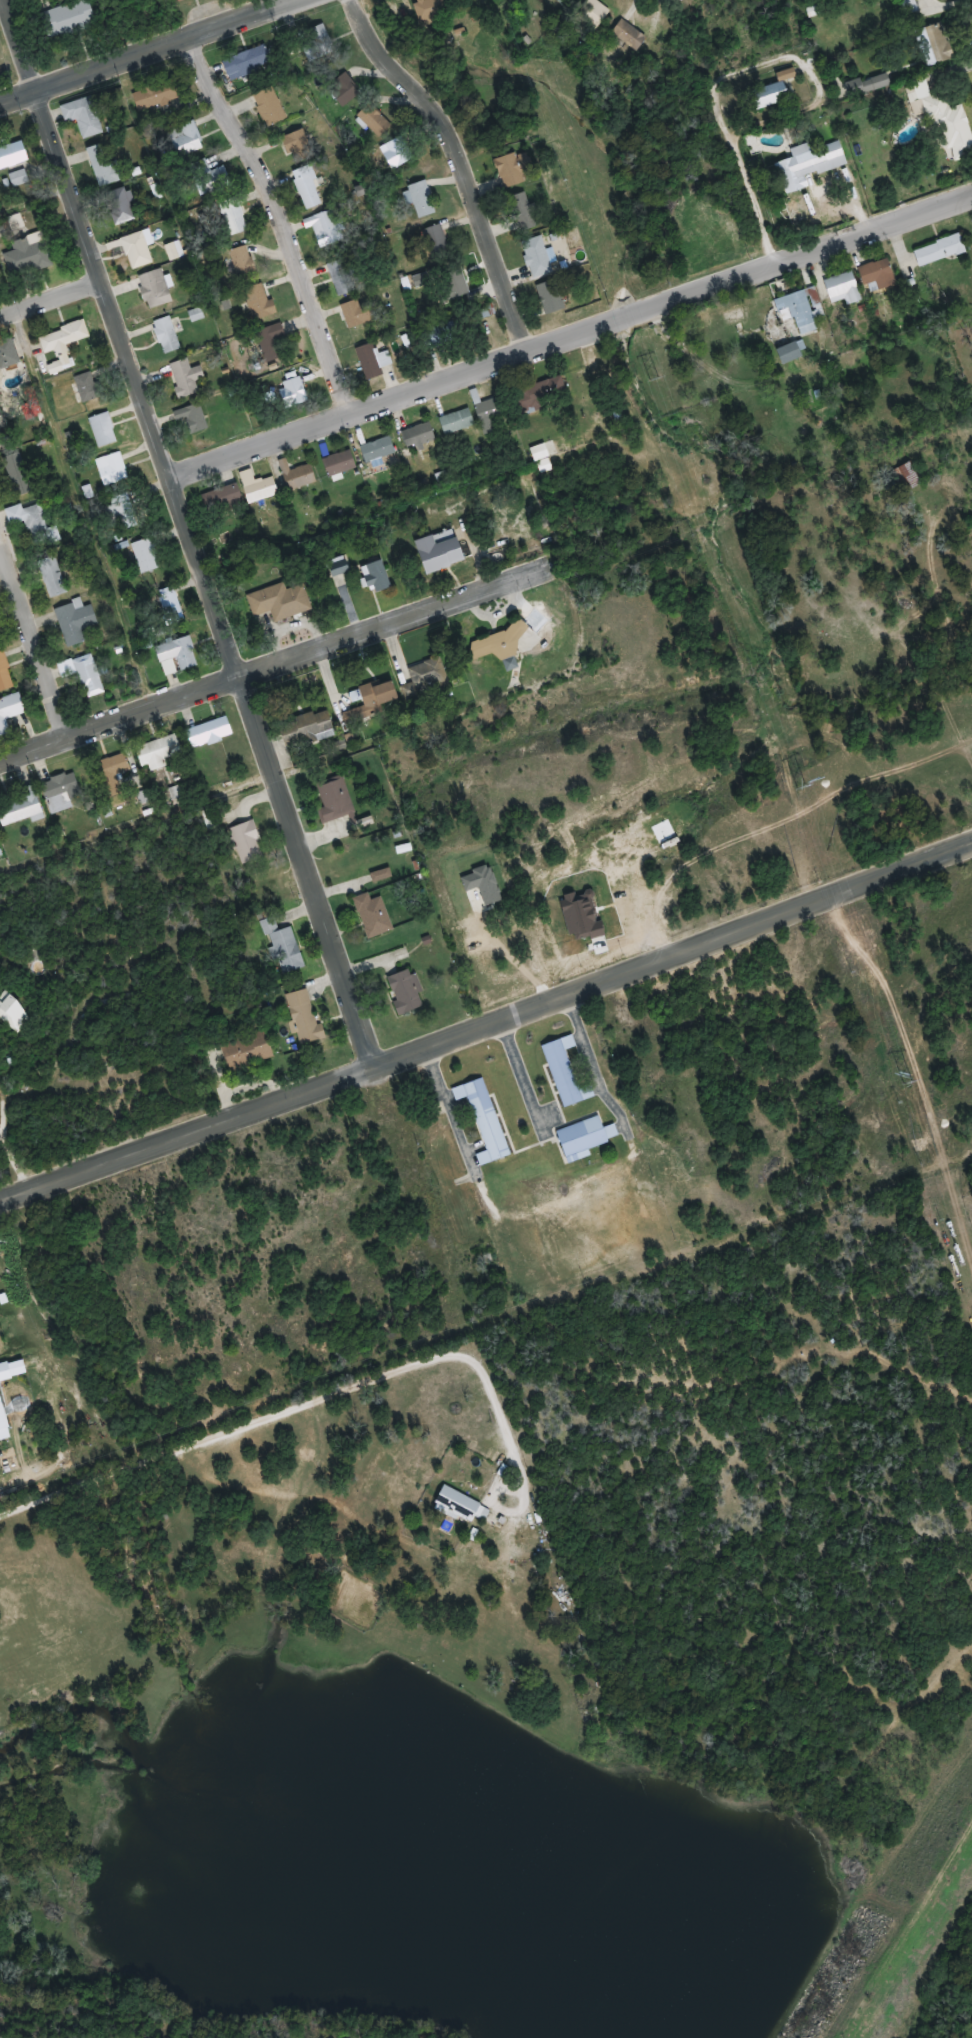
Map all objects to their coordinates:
building: (563, 2)
building: (605, 5)
building: (917, 7)
building: (431, 9)
building: (69, 18)
building: (634, 20)
building: (625, 36)
building: (316, 43)
building: (933, 46)
road: (143, 50)
building: (248, 63)
building: (869, 84)
building: (343, 89)
building: (772, 94)
building: (157, 95)
building: (269, 106)
building: (83, 116)
building: (373, 120)
building: (948, 122)
building: (186, 139)
building: (297, 144)
building: (12, 154)
road: (469, 158)
building: (102, 165)
building: (514, 168)
building: (799, 169)
building: (212, 177)
building: (17, 178)
building: (307, 187)
road: (36, 195)
building: (421, 199)
building: (119, 207)
building: (526, 212)
road: (285, 215)
building: (233, 217)
building: (17, 223)
building: (323, 224)
building: (437, 242)
building: (138, 249)
building: (939, 250)
building: (29, 256)
building: (537, 257)
building: (243, 261)
building: (878, 274)
building: (341, 277)
building: (454, 282)
building: (844, 288)
building: (155, 289)
road: (52, 295)
building: (551, 297)
building: (259, 301)
building: (356, 313)
building: (799, 313)
road: (571, 329)
building: (275, 333)
building: (167, 334)
building: (445, 335)
building: (62, 340)
building: (790, 353)
building: (9, 354)
building: (372, 361)
building: (55, 368)
power tower: (652, 377)
building: (186, 378)
building: (88, 388)
building: (293, 392)
building: (539, 393)
building: (491, 415)
building: (196, 417)
building: (457, 421)
building: (103, 429)
building: (419, 435)
building: (4, 436)
building: (379, 449)
building: (340, 463)
building: (112, 468)
building: (908, 472)
building: (17, 474)
building: (297, 476)
building: (258, 487)
building: (224, 499)
road: (88, 503)
building: (121, 508)
building: (31, 521)
road: (193, 529)
building: (439, 554)
building: (145, 555)
building: (337, 566)
building: (52, 578)
building: (280, 601)
building: (75, 621)
road: (34, 630)
building: (499, 644)
road: (280, 655)
building: (177, 656)
building: (5, 674)
building: (88, 676)
building: (426, 679)
building: (372, 699)
building: (9, 712)
building: (307, 729)
building: (209, 732)
building: (159, 752)
building: (112, 773)
power tower: (800, 784)
building: (61, 792)
building: (334, 800)
building: (21, 808)
building: (246, 843)
building: (373, 915)
building: (284, 948)
building: (405, 992)
building: (12, 1013)
building: (305, 1018)
road: (487, 1018)
building: (248, 1051)
road: (604, 1054)
building: (579, 1060)
road: (533, 1066)
building: (565, 1072)
power tower: (907, 1080)
building: (496, 1105)
building: (484, 1120)
building: (595, 1124)
road: (506, 1199)
building: (5, 1371)
road: (288, 1408)
building: (4, 1423)
building: (471, 1490)
building: (462, 1505)
dam: (889, 1913)

